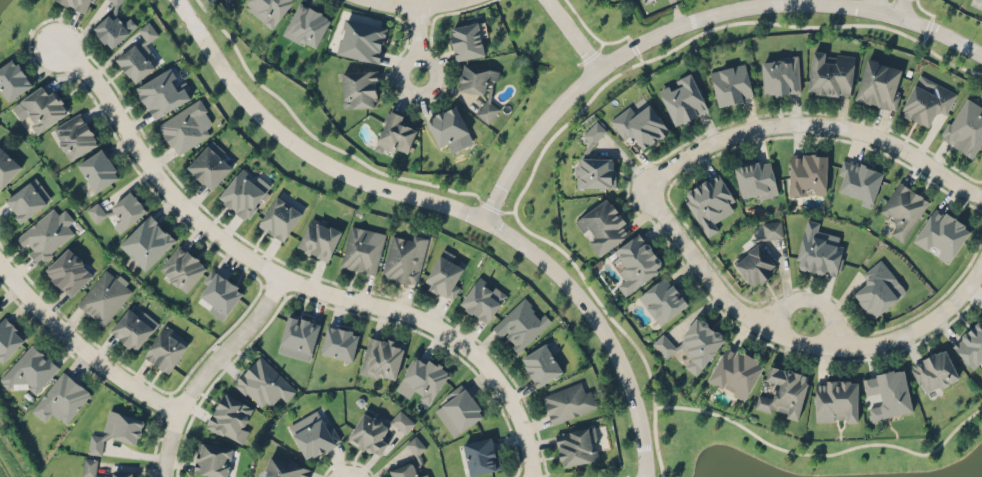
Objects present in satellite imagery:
building: (115, 1)
road: (671, 2)
building: (76, 4)
road: (410, 4)
road: (869, 5)
road: (895, 8)
building: (267, 9)
road: (675, 14)
building: (306, 25)
road: (712, 27)
road: (927, 27)
building: (112, 28)
road: (591, 32)
road: (569, 34)
road: (925, 35)
building: (361, 39)
road: (417, 40)
building: (466, 40)
road: (635, 42)
road: (634, 48)
road: (596, 51)
building: (139, 54)
building: (830, 73)
building: (780, 74)
building: (476, 77)
building: (12, 78)
building: (879, 83)
building: (731, 84)
building: (360, 88)
building: (163, 91)
building: (682, 98)
building: (926, 100)
building: (42, 106)
building: (486, 110)
building: (446, 124)
building: (640, 125)
building: (186, 126)
building: (965, 126)
building: (594, 132)
building: (394, 133)
building: (74, 135)
building: (210, 164)
building: (7, 166)
building: (98, 169)
building: (594, 172)
building: (807, 173)
building: (755, 177)
building: (859, 181)
building: (243, 192)
building: (27, 199)
building: (709, 202)
road: (447, 208)
building: (903, 209)
building: (119, 211)
road: (661, 215)
building: (279, 217)
building: (603, 225)
building: (772, 228)
building: (941, 234)
building: (44, 235)
building: (319, 238)
building: (147, 241)
building: (362, 249)
building: (818, 249)
building: (404, 258)
building: (634, 262)
building: (755, 265)
building: (182, 267)
building: (68, 271)
building: (445, 274)
road: (288, 280)
building: (878, 289)
building: (220, 293)
building: (105, 295)
building: (482, 298)
building: (663, 299)
road: (805, 300)
road: (609, 315)
building: (520, 323)
building: (133, 327)
building: (299, 332)
building: (9, 337)
building: (339, 342)
building: (700, 343)
building: (663, 344)
building: (970, 346)
building: (166, 347)
road: (79, 348)
building: (382, 356)
building: (541, 364)
road: (203, 368)
building: (29, 369)
building: (933, 370)
building: (735, 371)
building: (422, 378)
building: (263, 383)
building: (783, 391)
building: (888, 392)
building: (61, 397)
building: (836, 400)
building: (568, 401)
building: (458, 410)
building: (229, 417)
building: (402, 421)
building: (125, 426)
building: (370, 432)
building: (312, 434)
building: (95, 443)
building: (415, 444)
building: (577, 446)
road: (822, 453)
building: (481, 455)
building: (211, 459)
building: (90, 464)
building: (283, 468)
building: (403, 470)
building: (423, 476)

